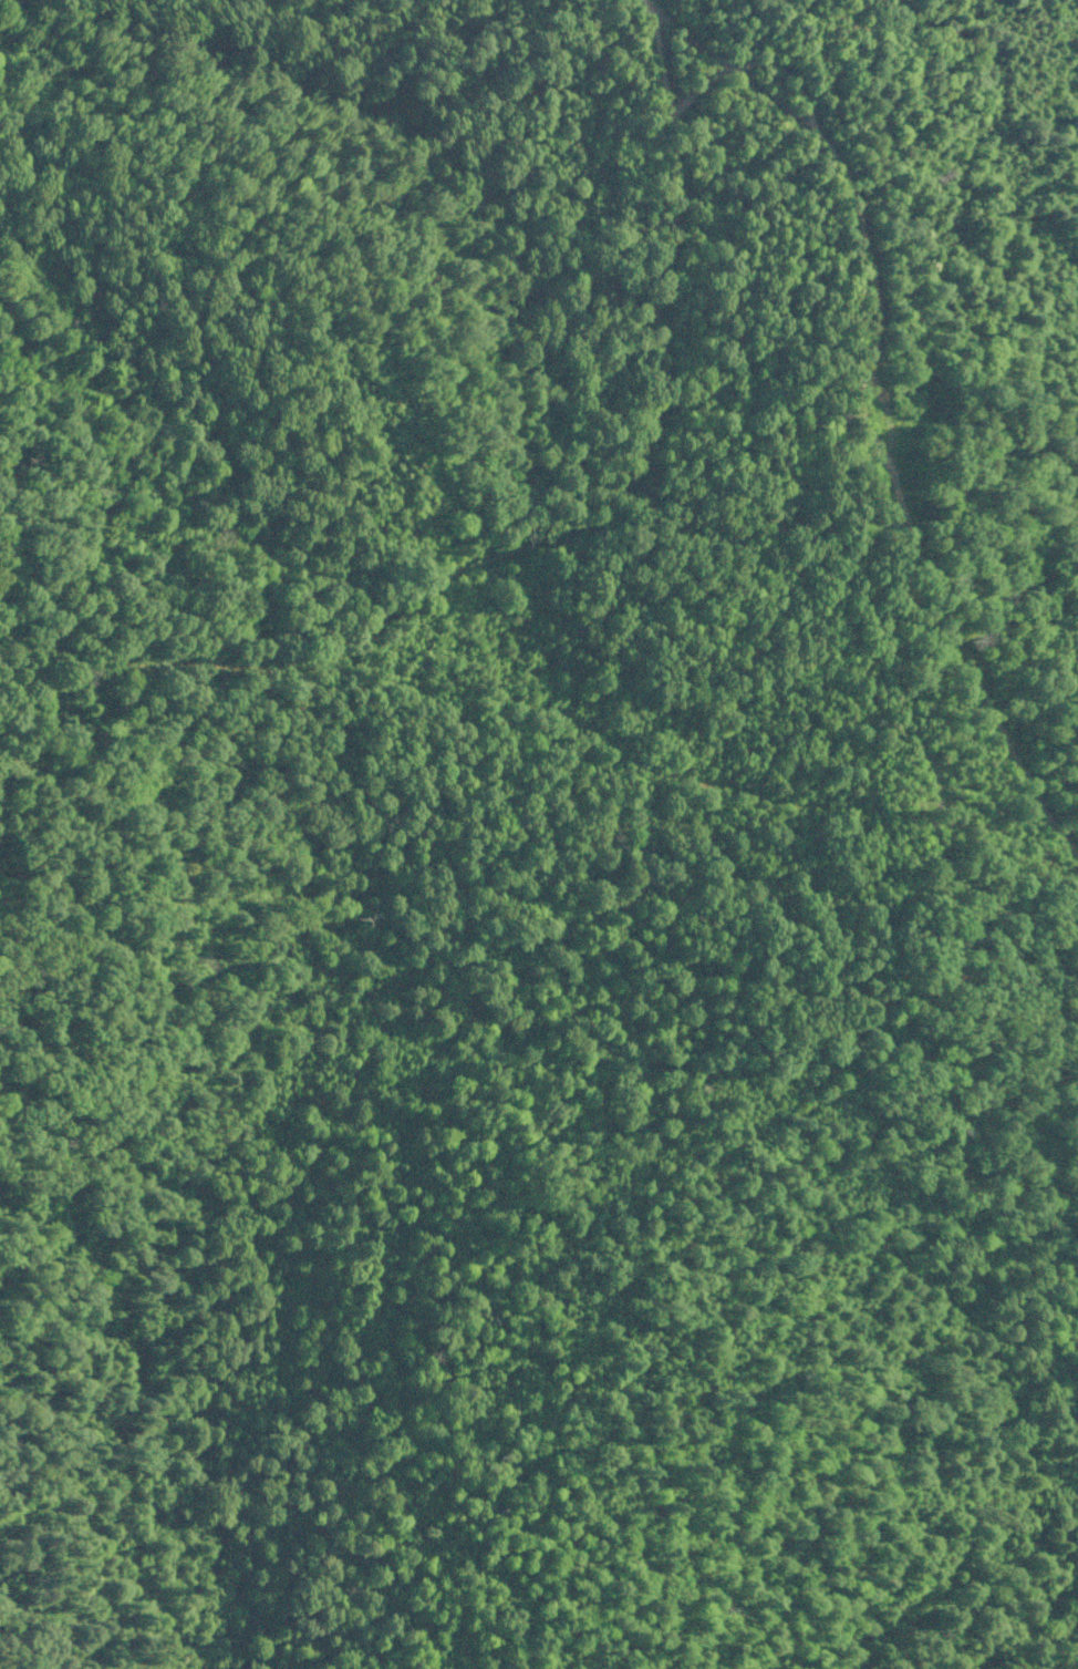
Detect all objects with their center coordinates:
road: (1064, 1659)

